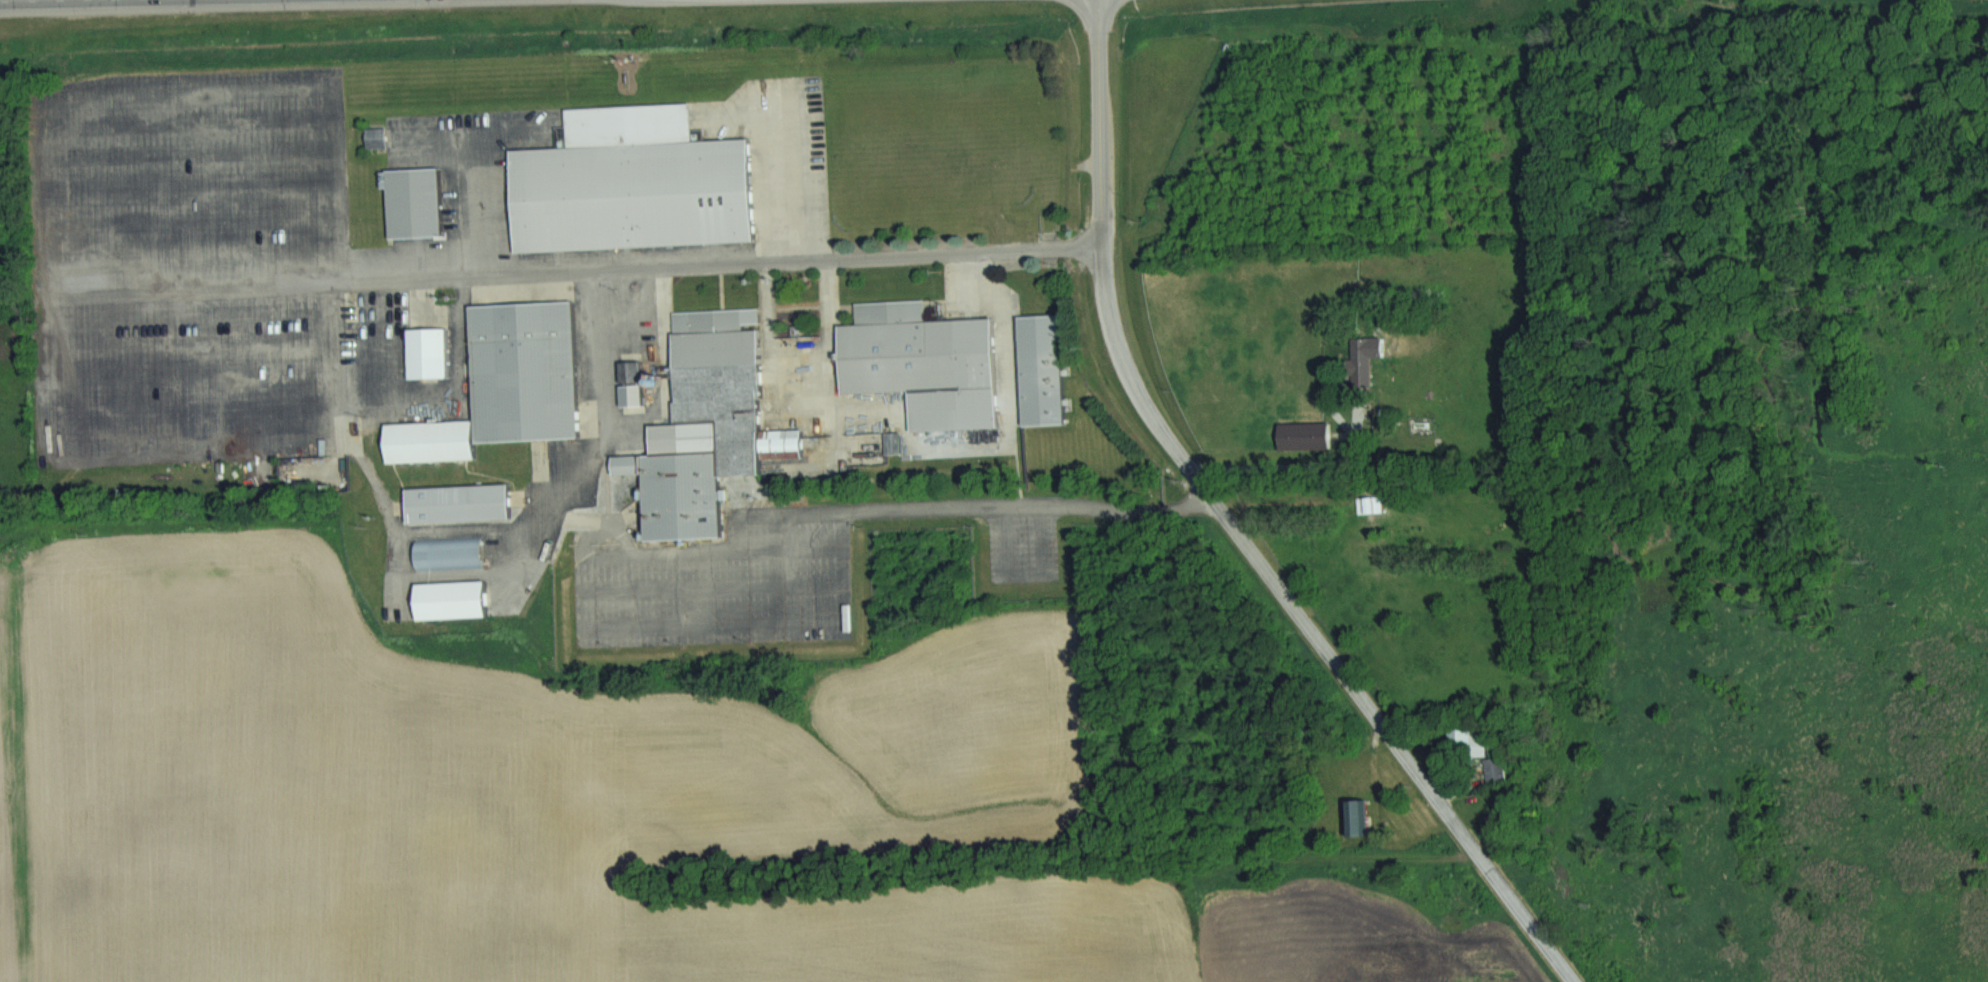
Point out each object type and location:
building: (379, 135)
building: (637, 181)
building: (419, 200)
building: (1015, 230)
road: (737, 264)
building: (433, 351)
building: (1366, 359)
building: (926, 362)
building: (1045, 368)
building: (530, 370)
building: (636, 382)
building: (714, 424)
building: (436, 440)
building: (632, 463)
building: (323, 479)
building: (463, 503)
building: (1372, 504)
road: (994, 507)
road: (1233, 529)
building: (452, 552)
building: (457, 599)
building: (1498, 770)
building: (1365, 816)

